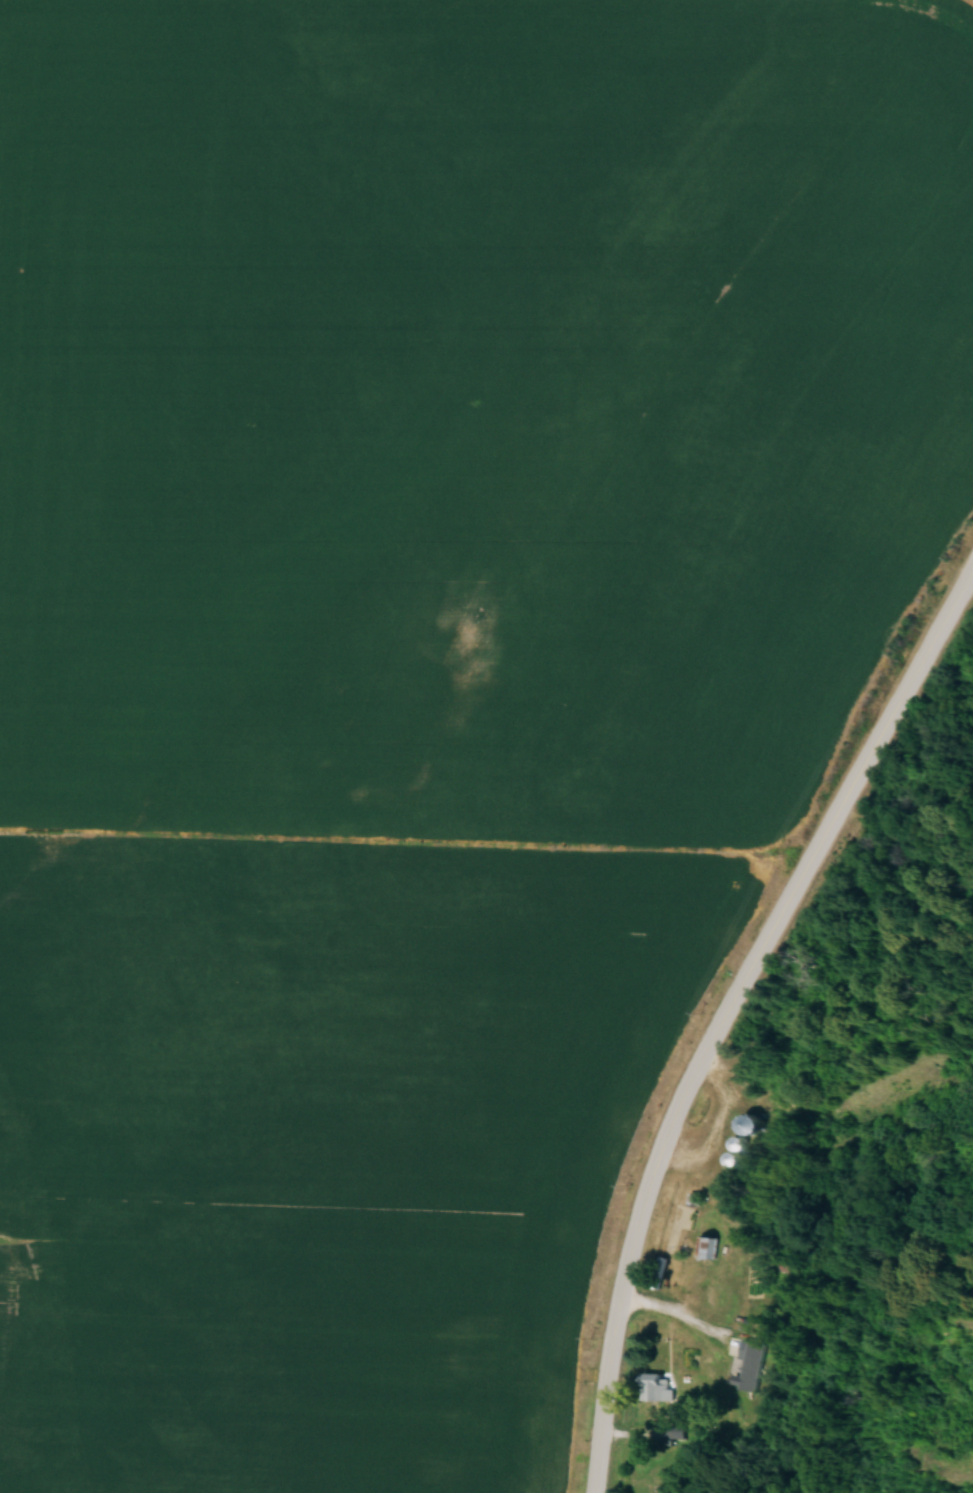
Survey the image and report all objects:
road: (722, 1005)
building: (750, 1122)
building: (733, 1157)
building: (708, 1245)
building: (660, 1270)
building: (656, 1385)

